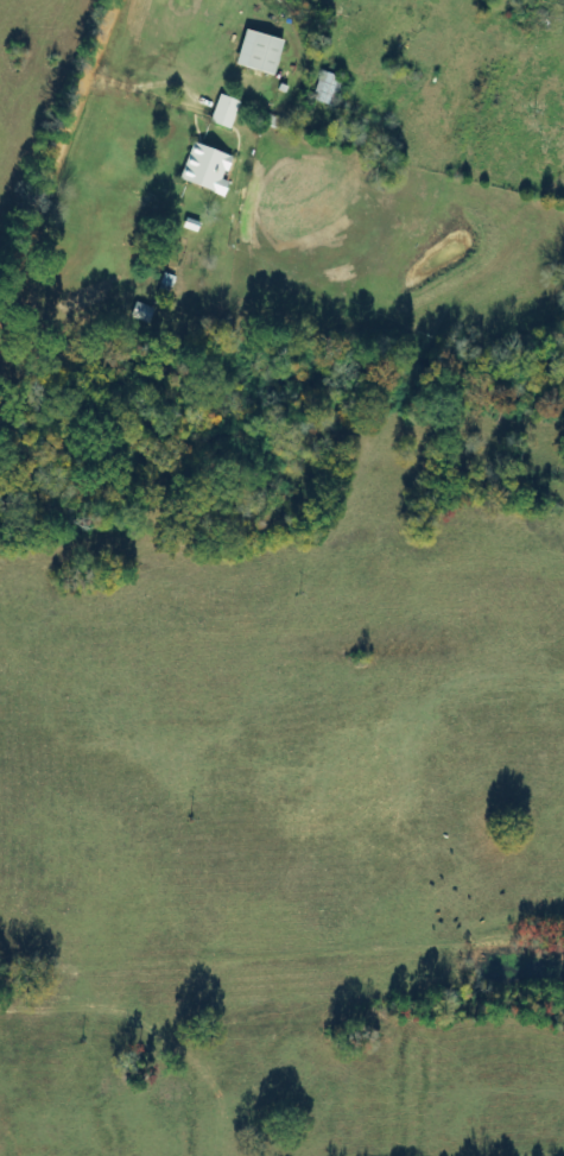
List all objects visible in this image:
building: (258, 51)
road: (61, 145)
building: (207, 169)

